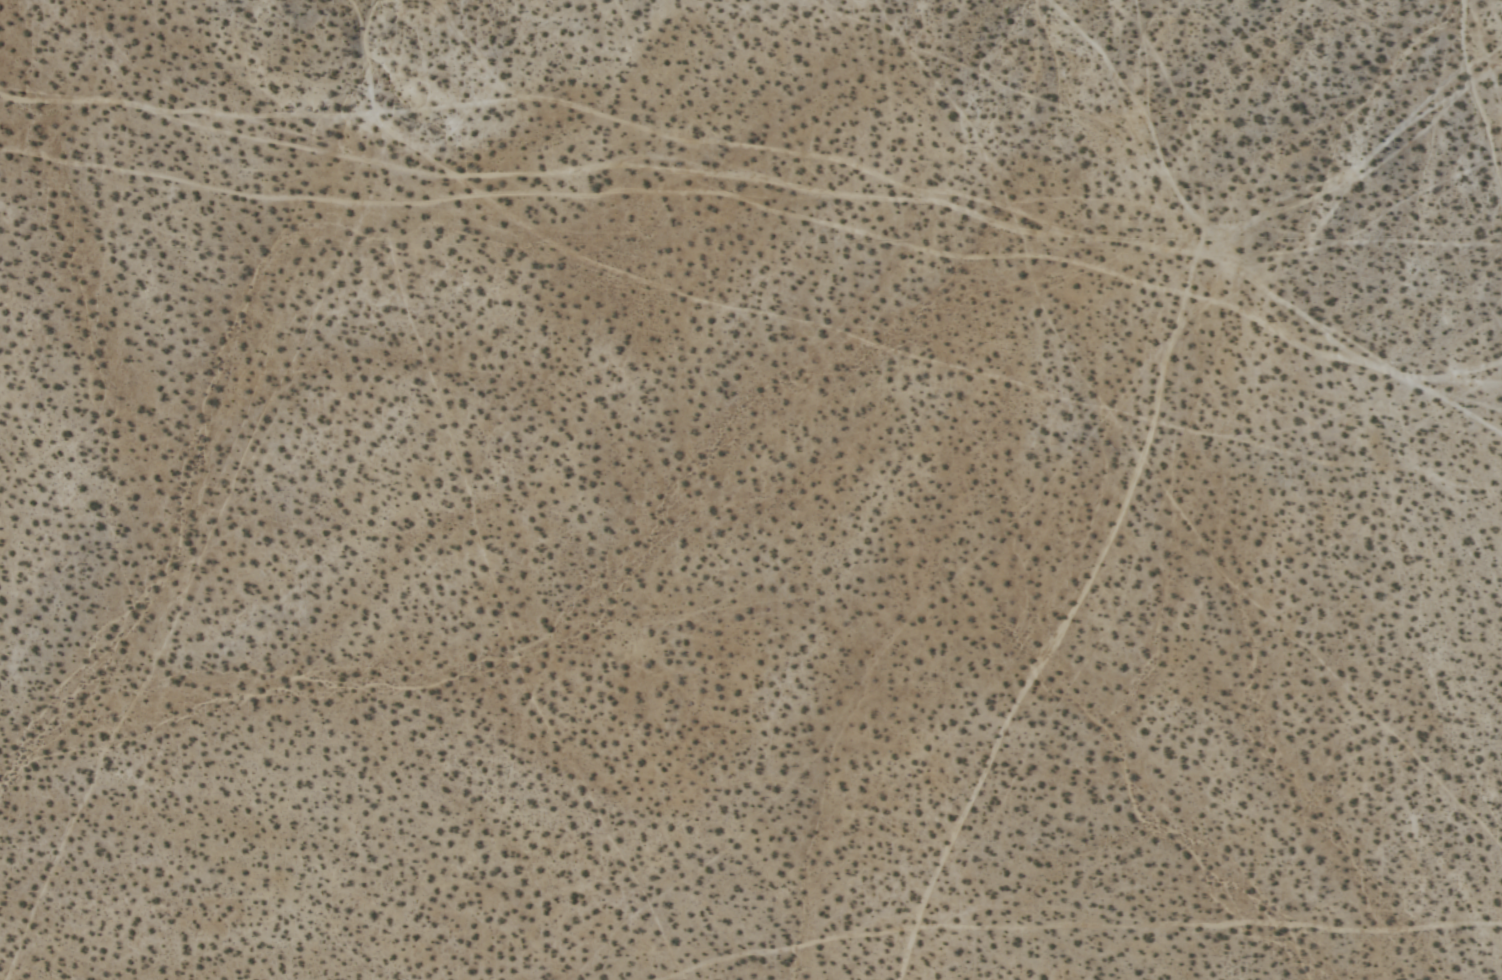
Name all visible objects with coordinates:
crop: (751, 490)

